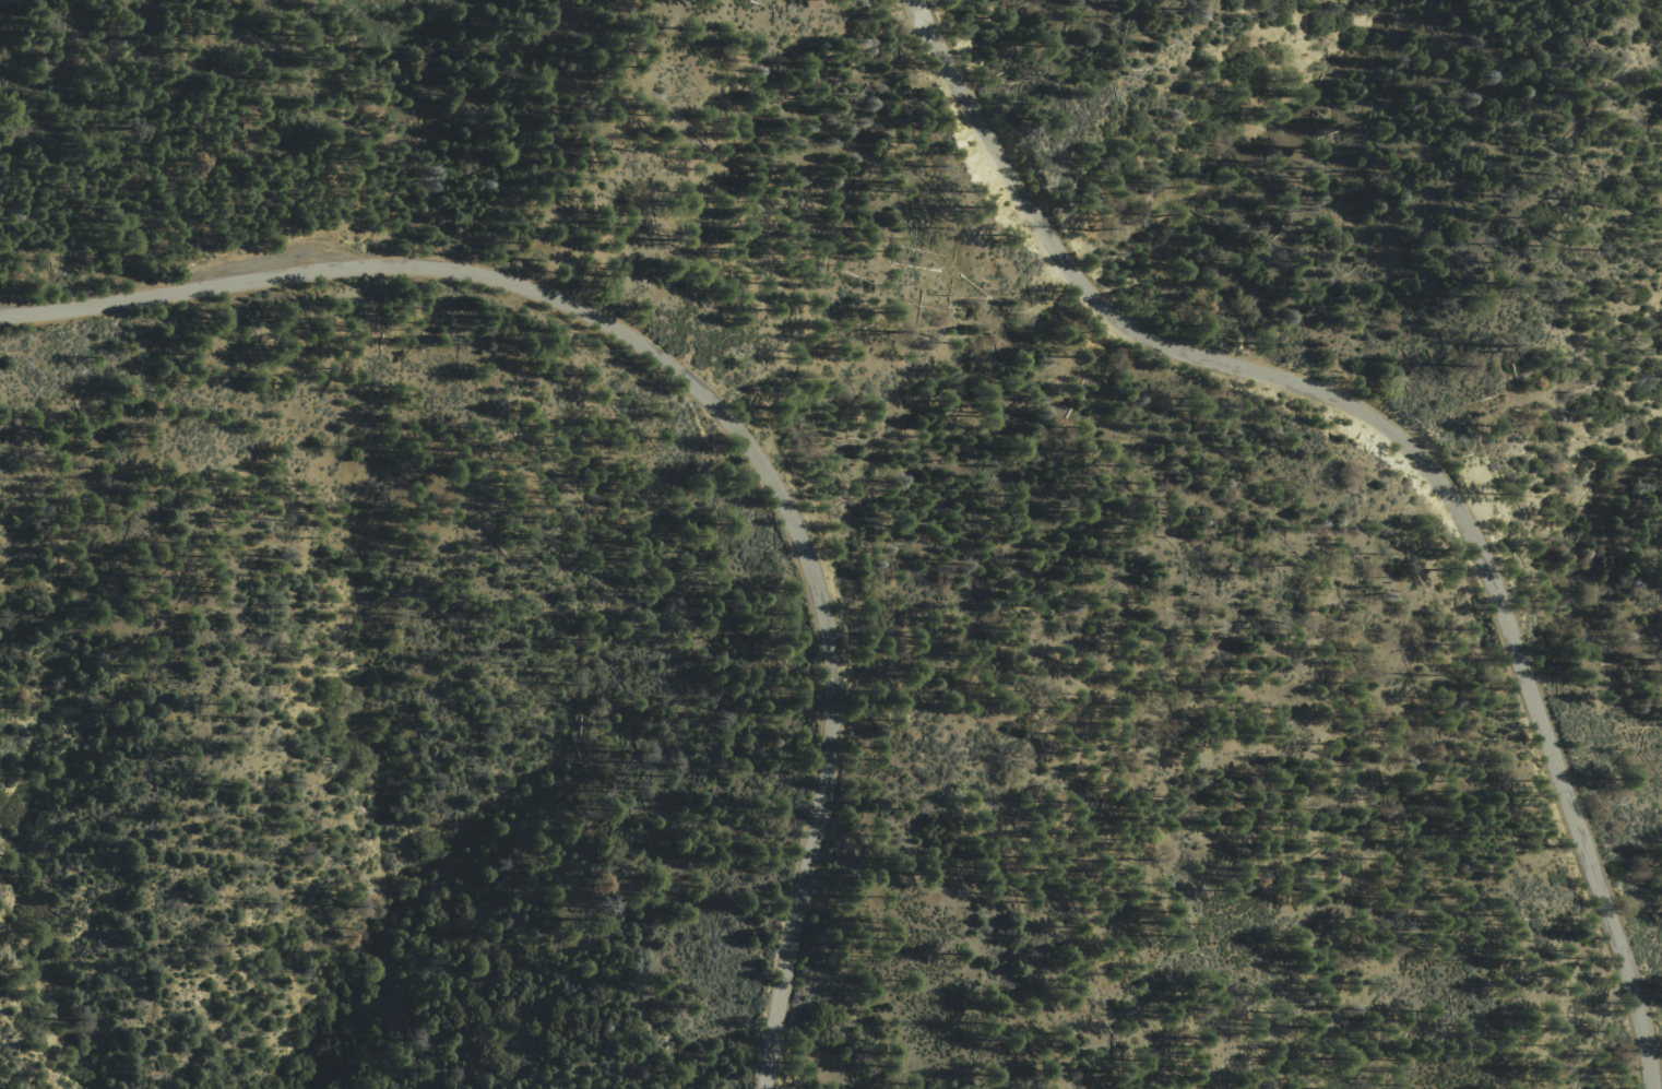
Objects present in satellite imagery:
road: (702, 392)
road: (1410, 440)

